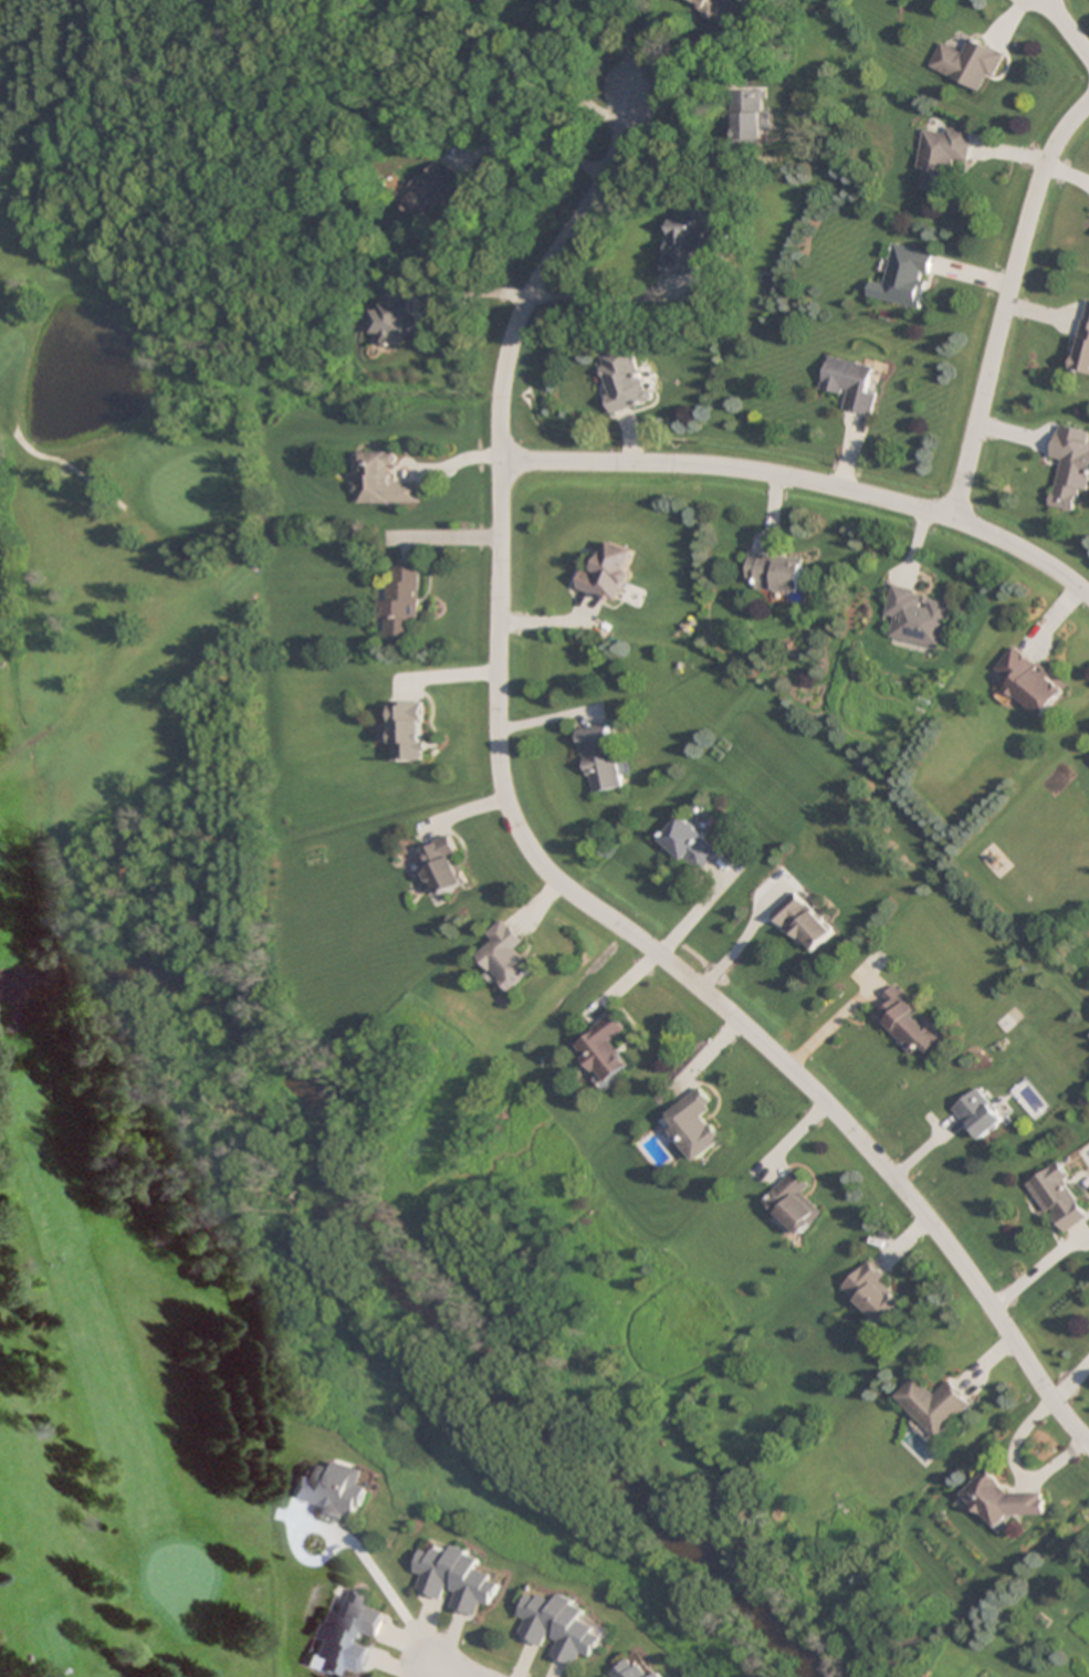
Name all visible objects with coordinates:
building: (489, 1)
building: (716, 10)
road: (1068, 28)
building: (968, 63)
building: (751, 116)
building: (942, 157)
building: (434, 190)
building: (688, 244)
building: (905, 276)
road: (1007, 306)
building: (395, 315)
building: (1082, 344)
building: (622, 379)
building: (850, 384)
road: (549, 462)
building: (1069, 465)
building: (378, 481)
road: (856, 493)
building: (607, 573)
building: (774, 573)
building: (399, 606)
building: (918, 617)
building: (1027, 683)
building: (411, 732)
building: (601, 758)
park: (136, 834)
building: (689, 846)
road: (537, 857)
building: (447, 866)
building: (805, 923)
building: (509, 956)
building: (909, 1025)
building: (606, 1050)
building: (978, 1114)
building: (695, 1125)
building: (1058, 1198)
building: (796, 1203)
river: (406, 1288)
building: (876, 1293)
building: (939, 1405)
building: (332, 1491)
building: (1004, 1500)
building: (454, 1579)
building: (561, 1627)
building: (346, 1633)
road: (450, 1669)
building: (631, 1669)
building: (660, 1674)

